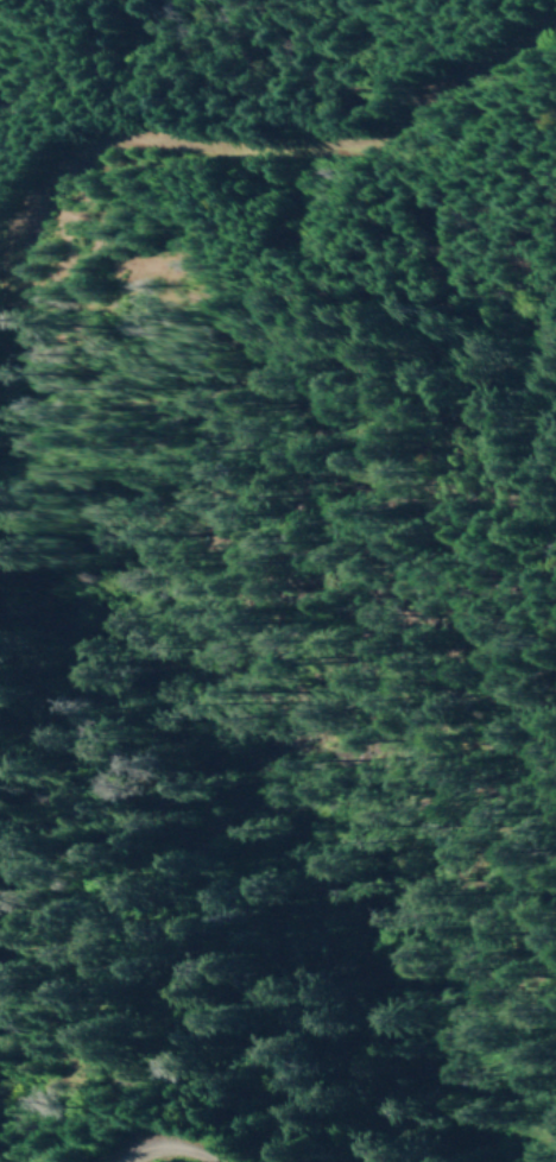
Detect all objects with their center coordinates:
road: (209, 154)
road: (159, 1152)

